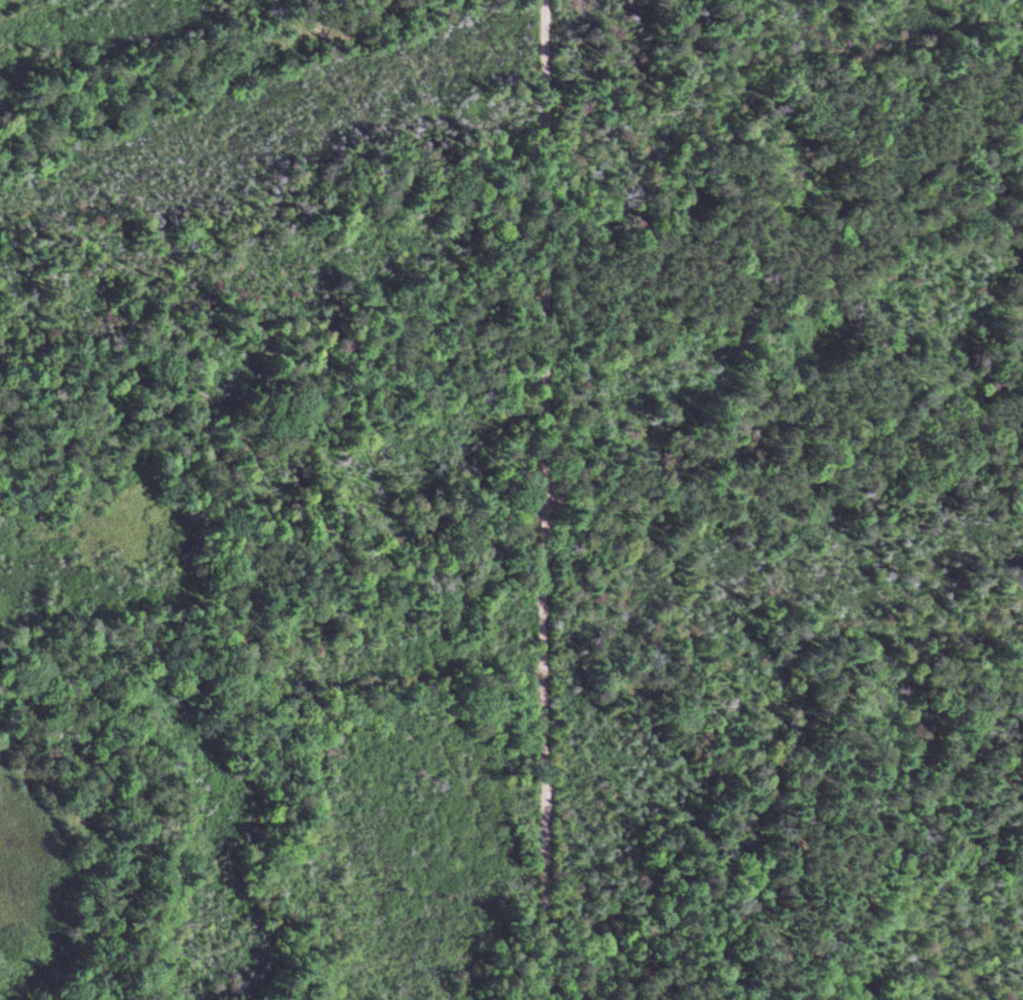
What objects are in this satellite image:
road: (545, 500)

